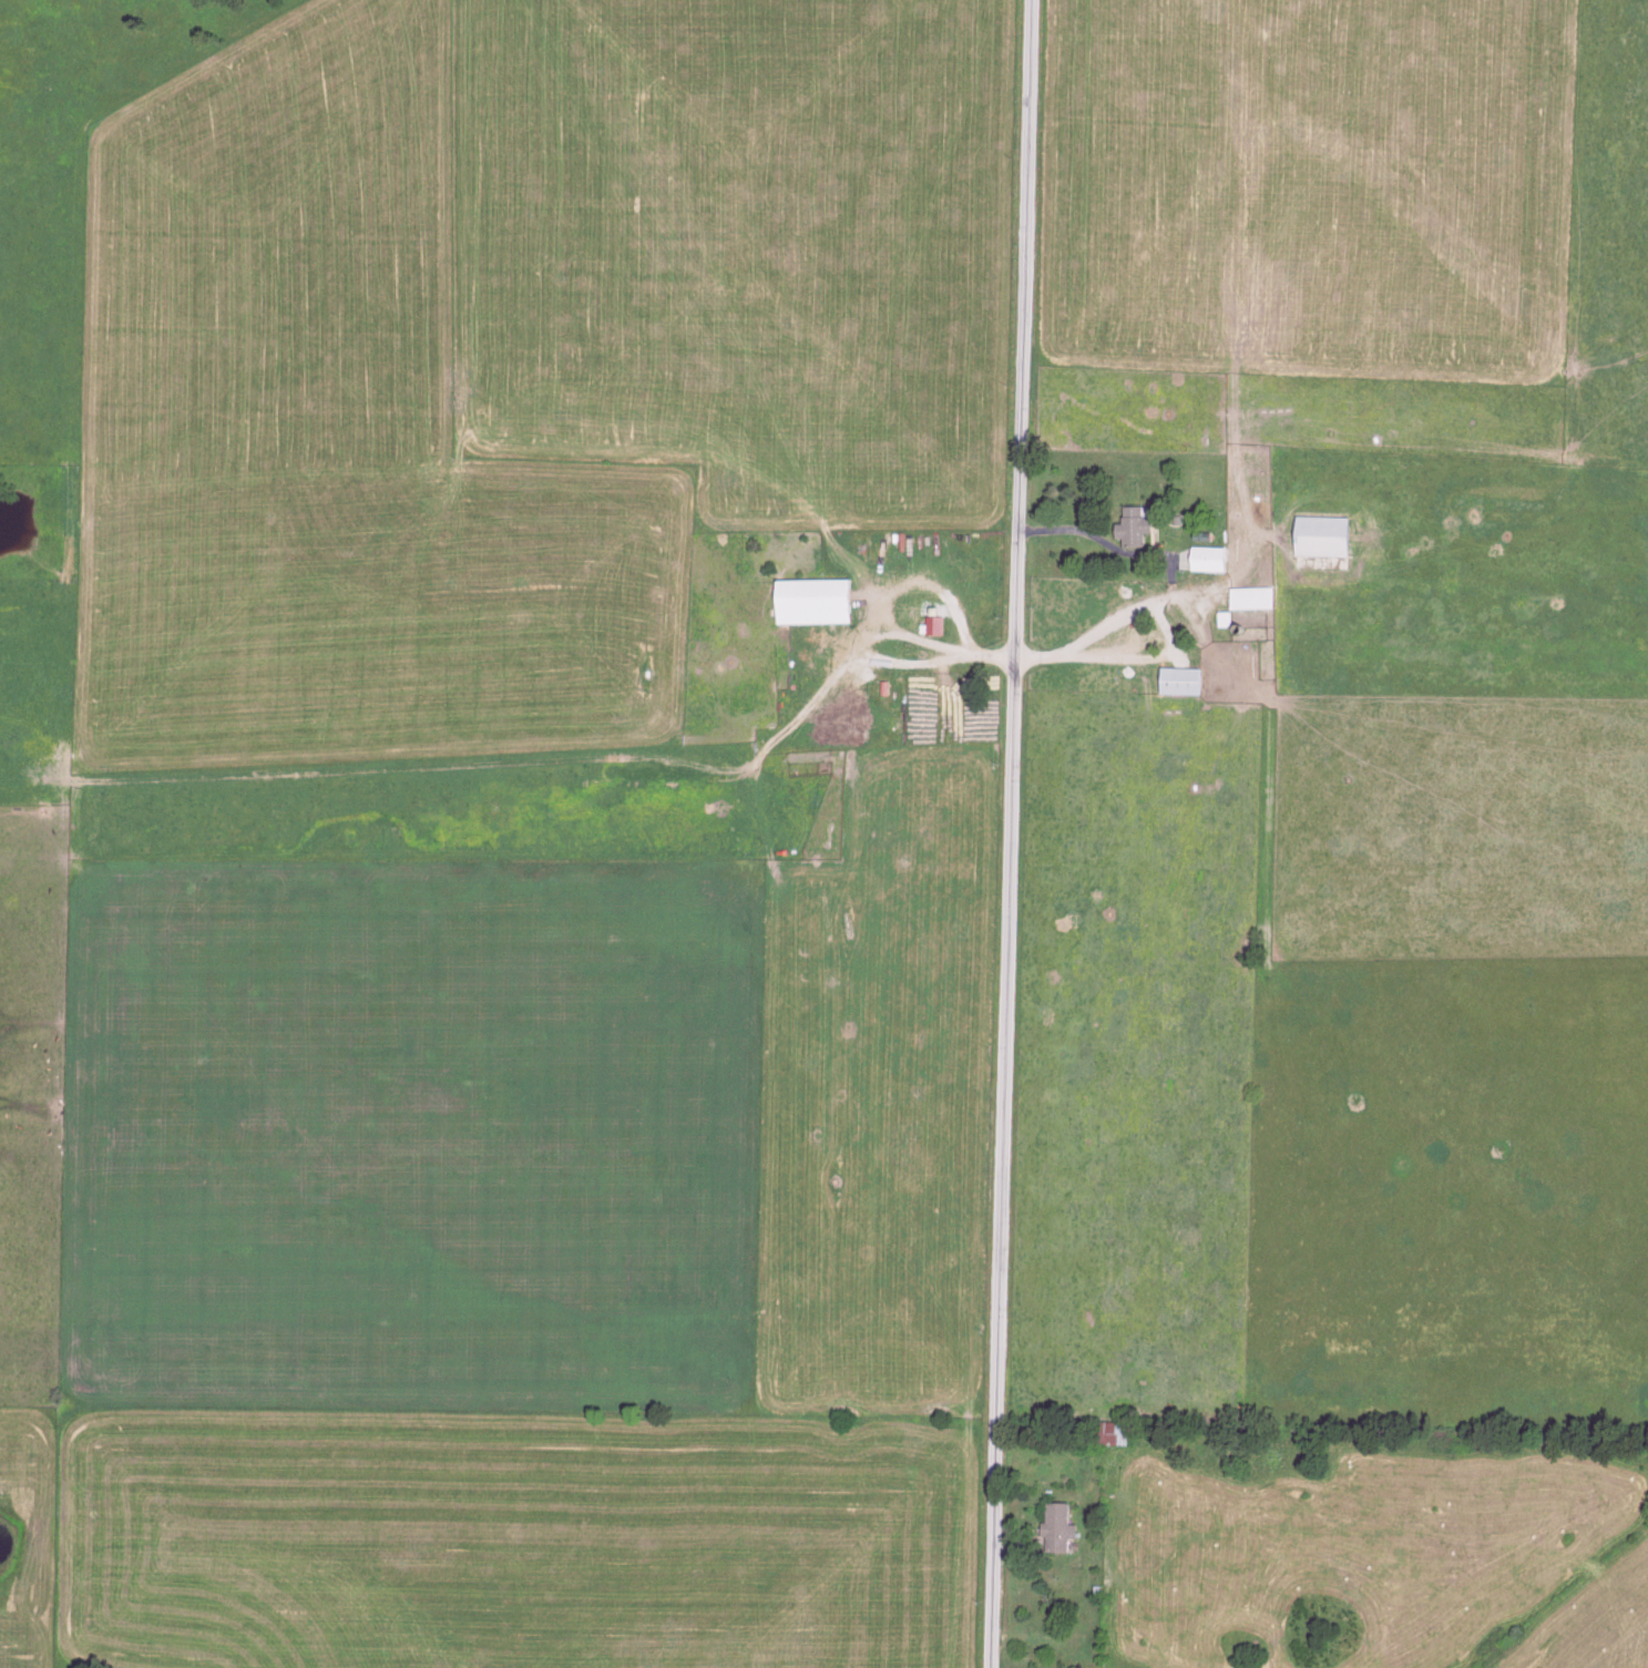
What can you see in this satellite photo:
building: (1215, 518)
building: (1130, 528)
building: (1319, 538)
building: (809, 603)
building: (931, 626)
building: (1217, 626)
road: (1169, 656)
building: (1178, 682)
road: (1006, 833)
building: (1109, 1434)
building: (1053, 1528)

